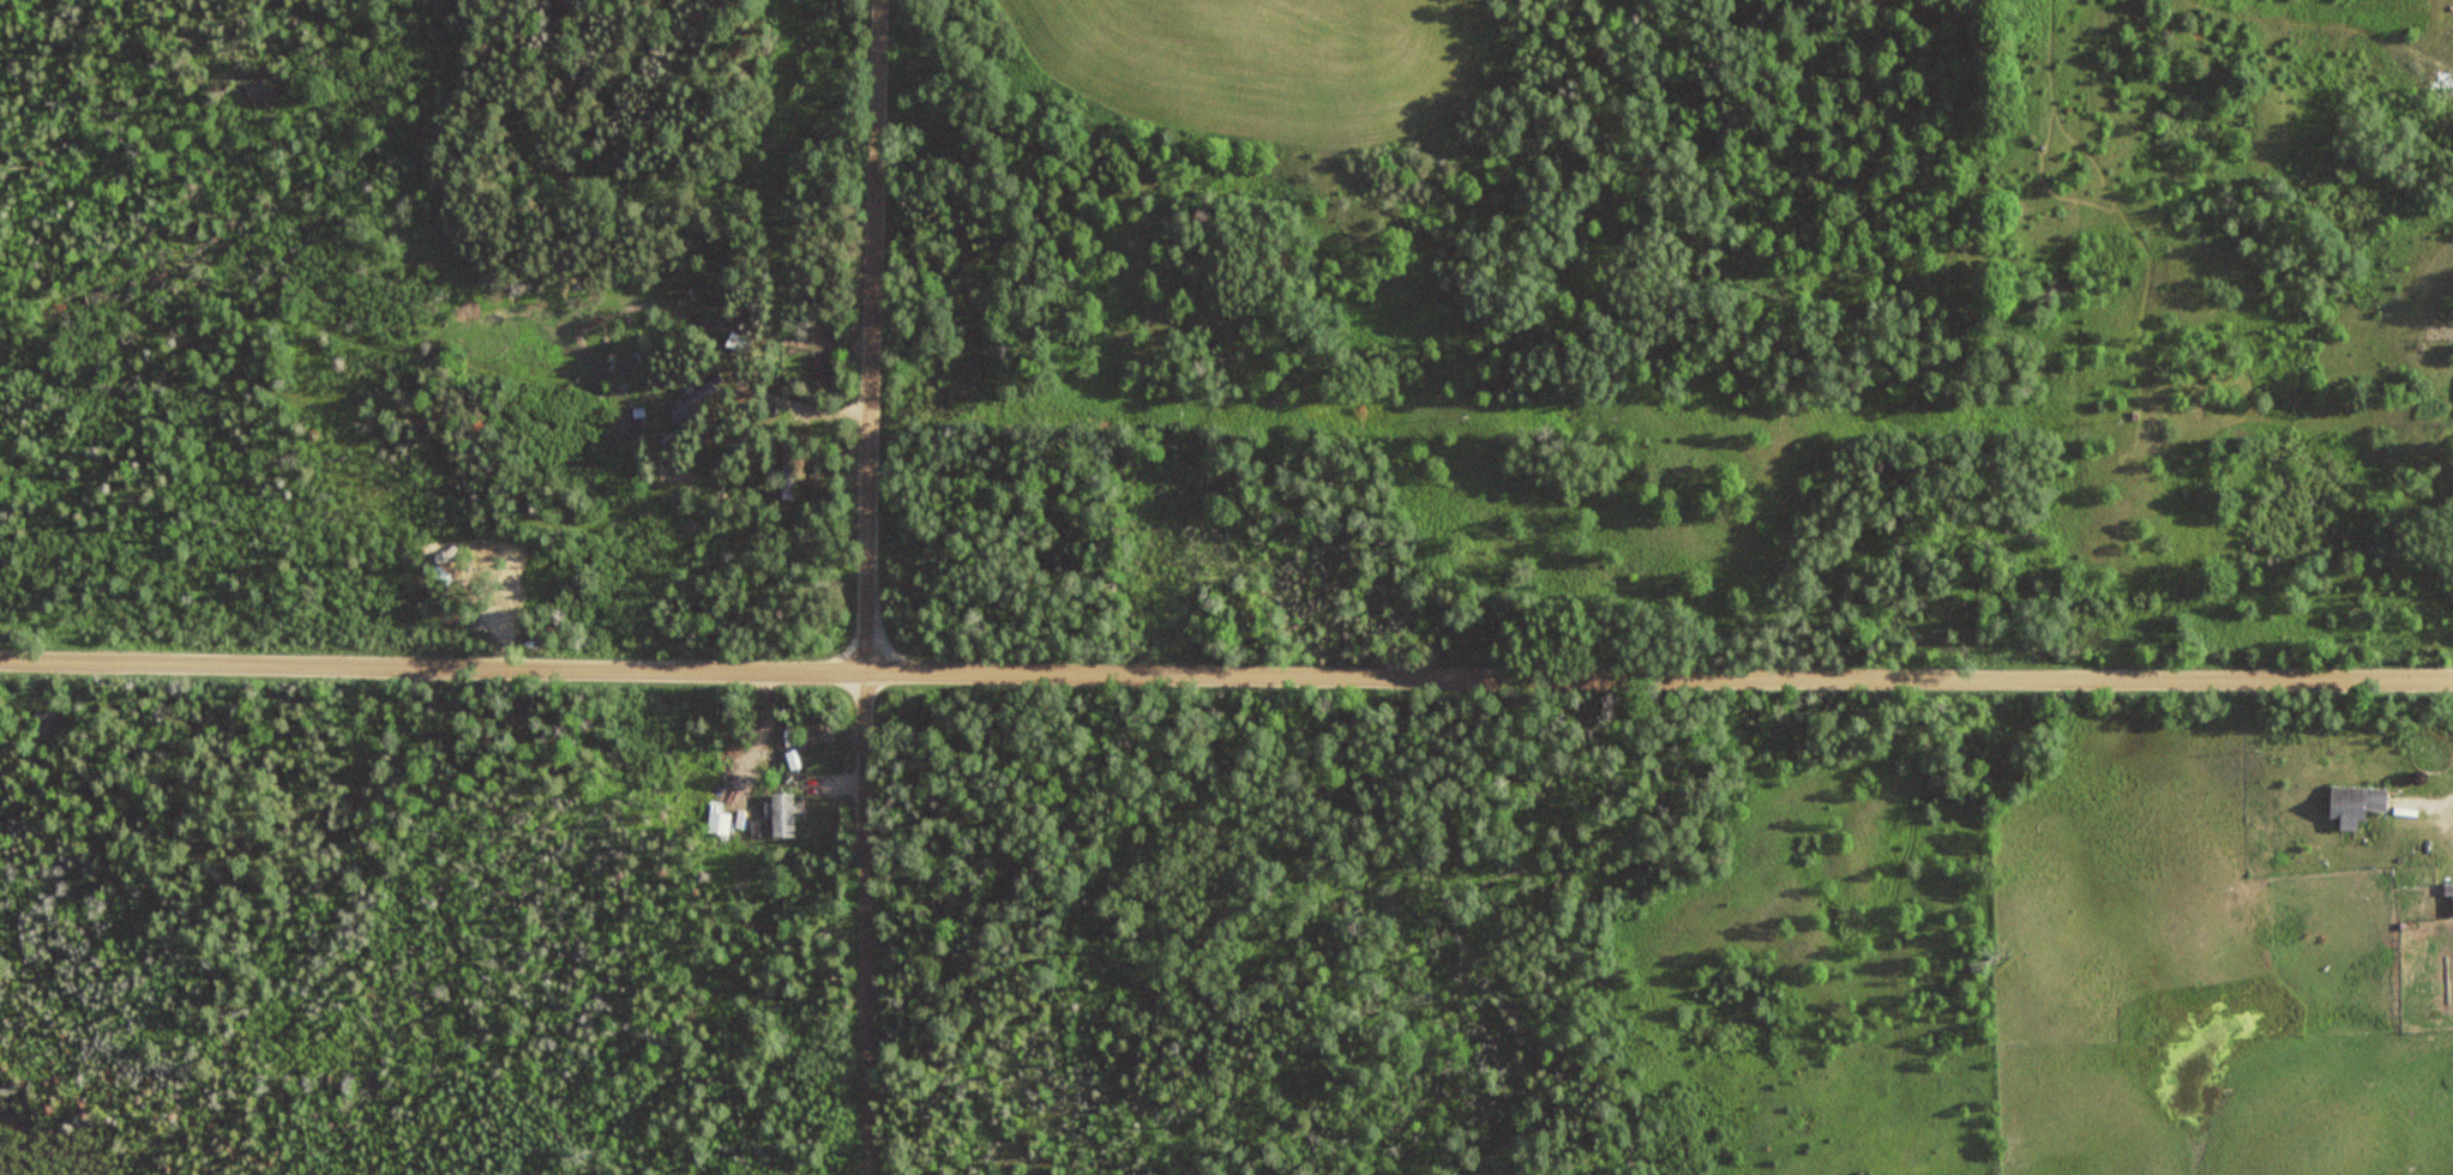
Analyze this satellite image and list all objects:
building: (611, 291)
building: (696, 400)
building: (787, 470)
road: (870, 586)
road: (1226, 668)
building: (47, 725)
building: (2356, 802)
building: (782, 813)
building: (719, 821)

